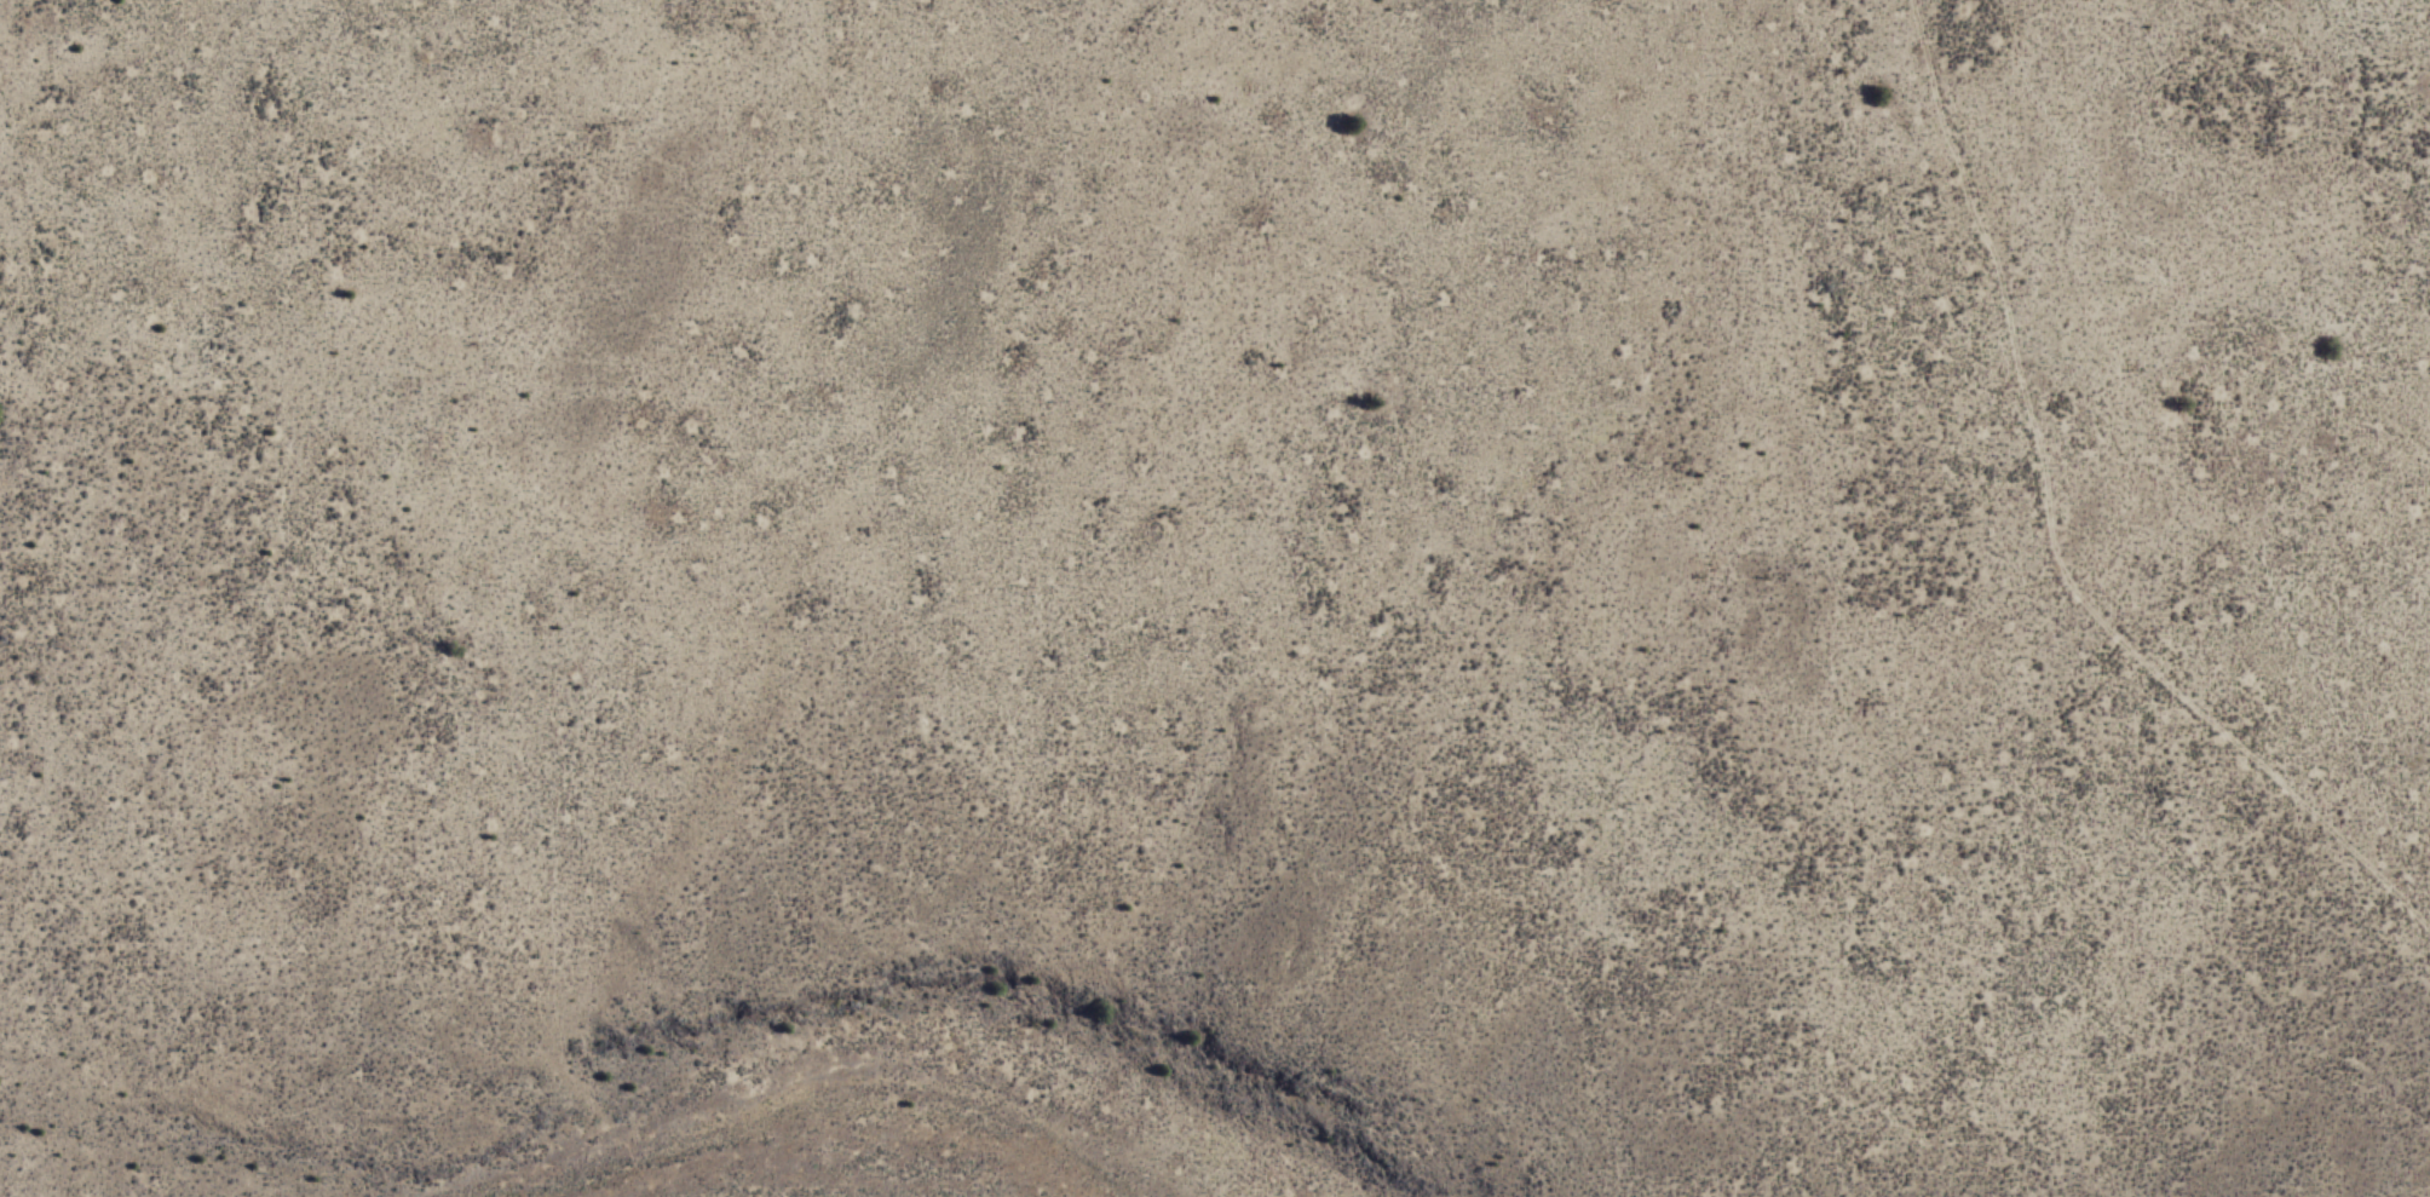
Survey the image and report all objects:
road: (2046, 530)

